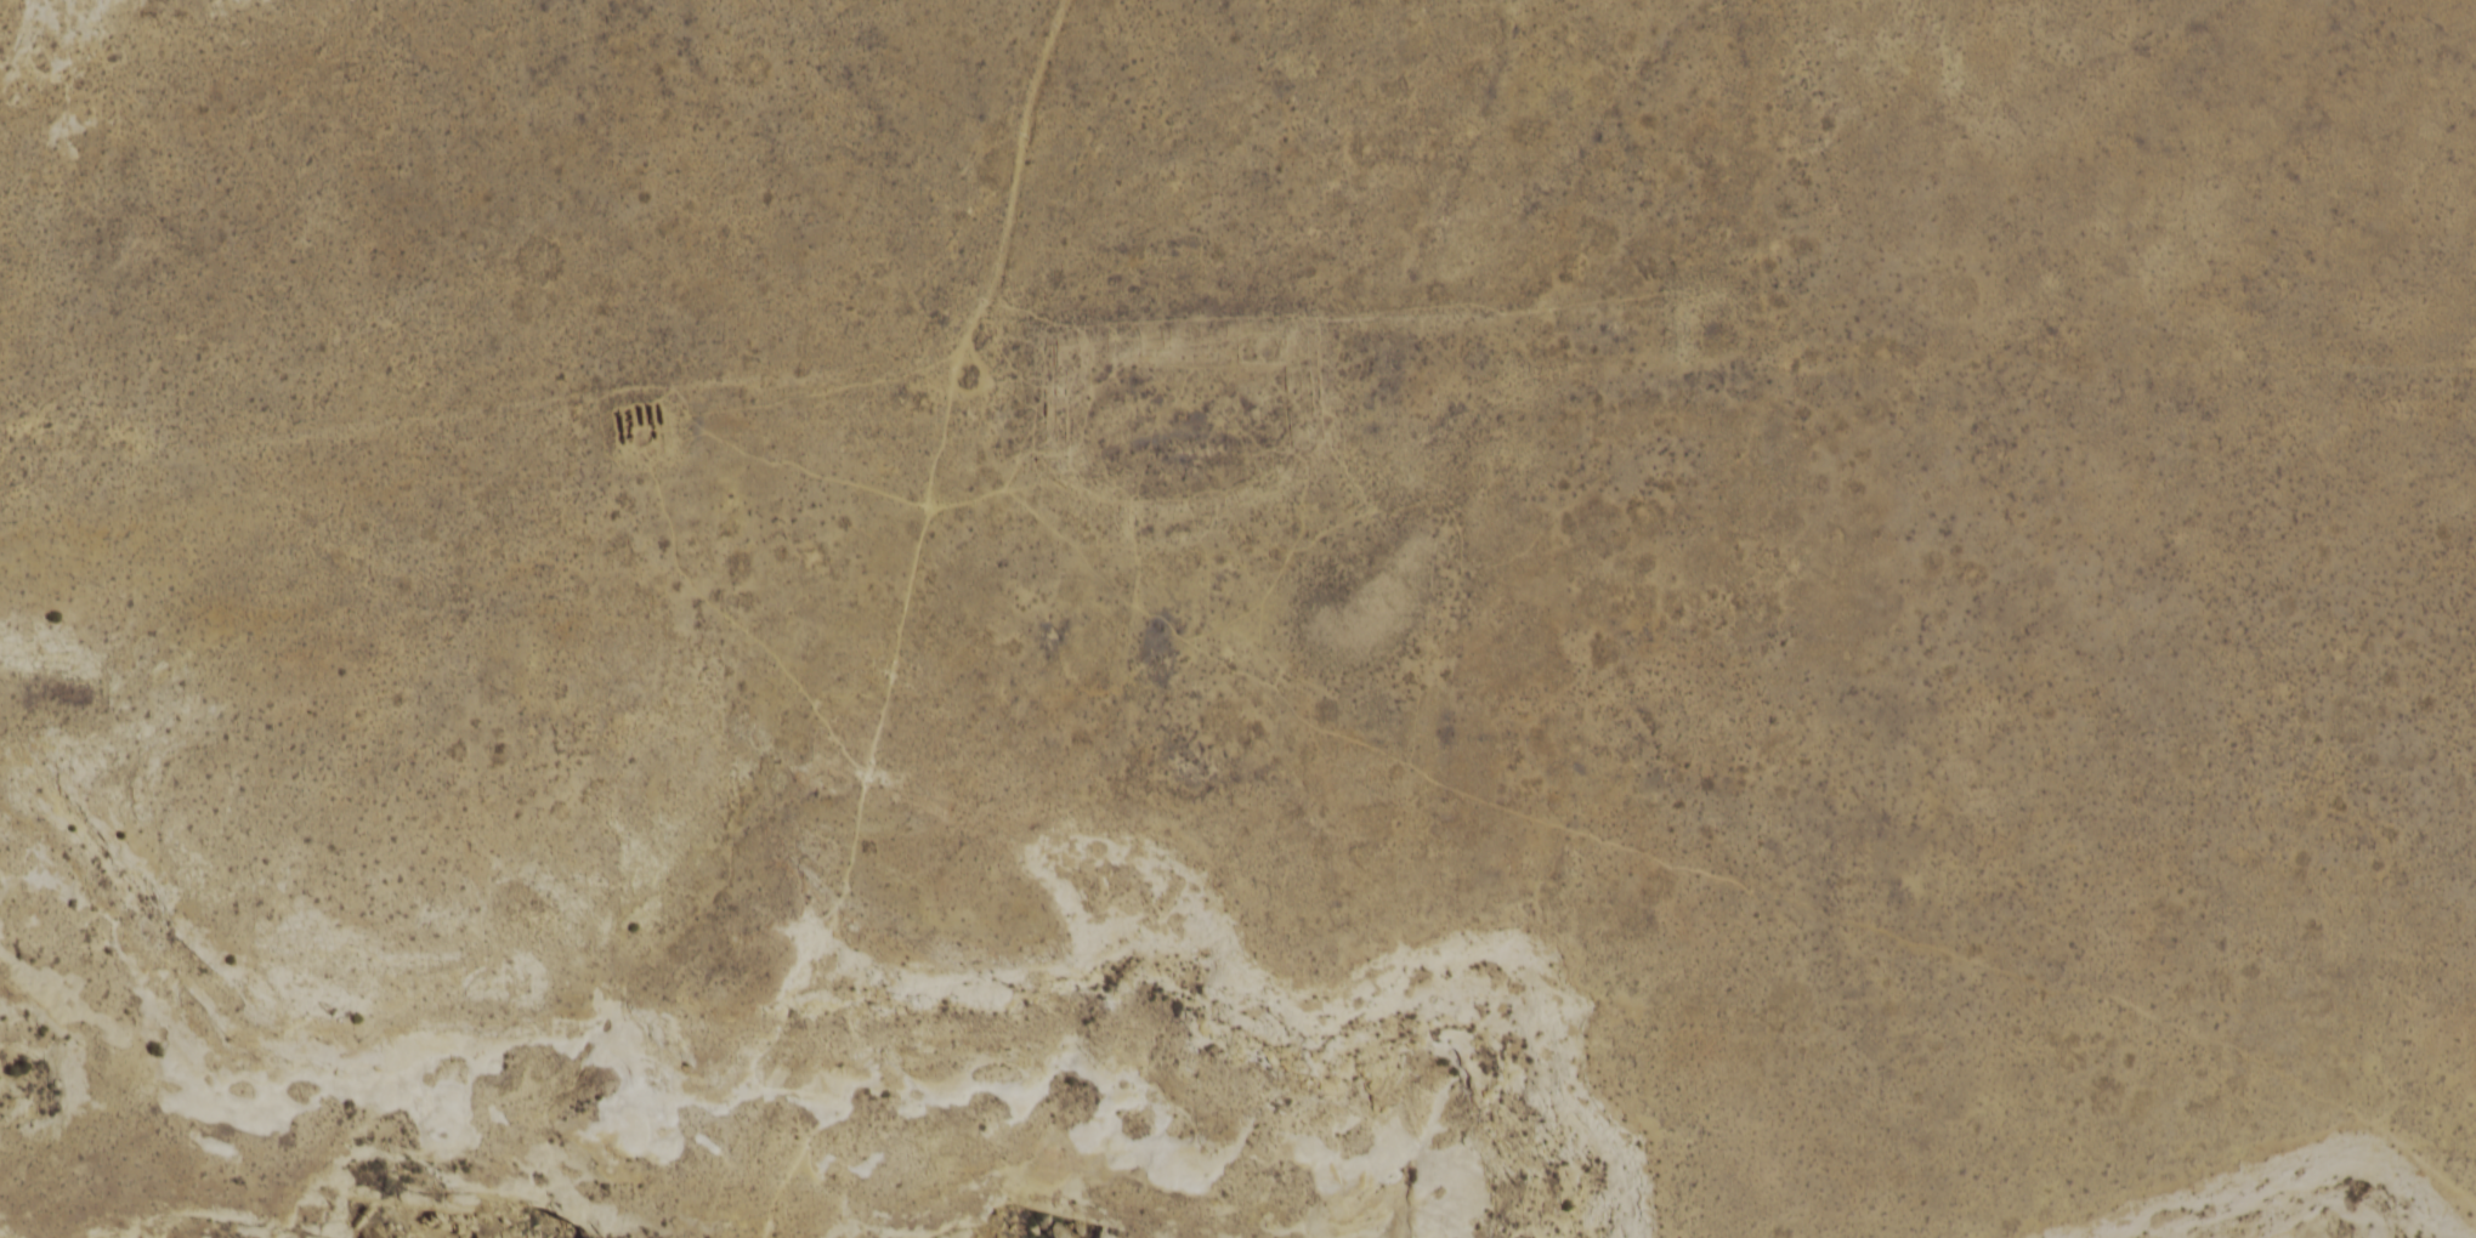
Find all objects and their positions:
road: (1015, 182)
road: (697, 416)
building: (633, 418)
building: (636, 437)
road: (1607, 464)
road: (1430, 670)
road: (859, 807)
road: (1826, 912)

